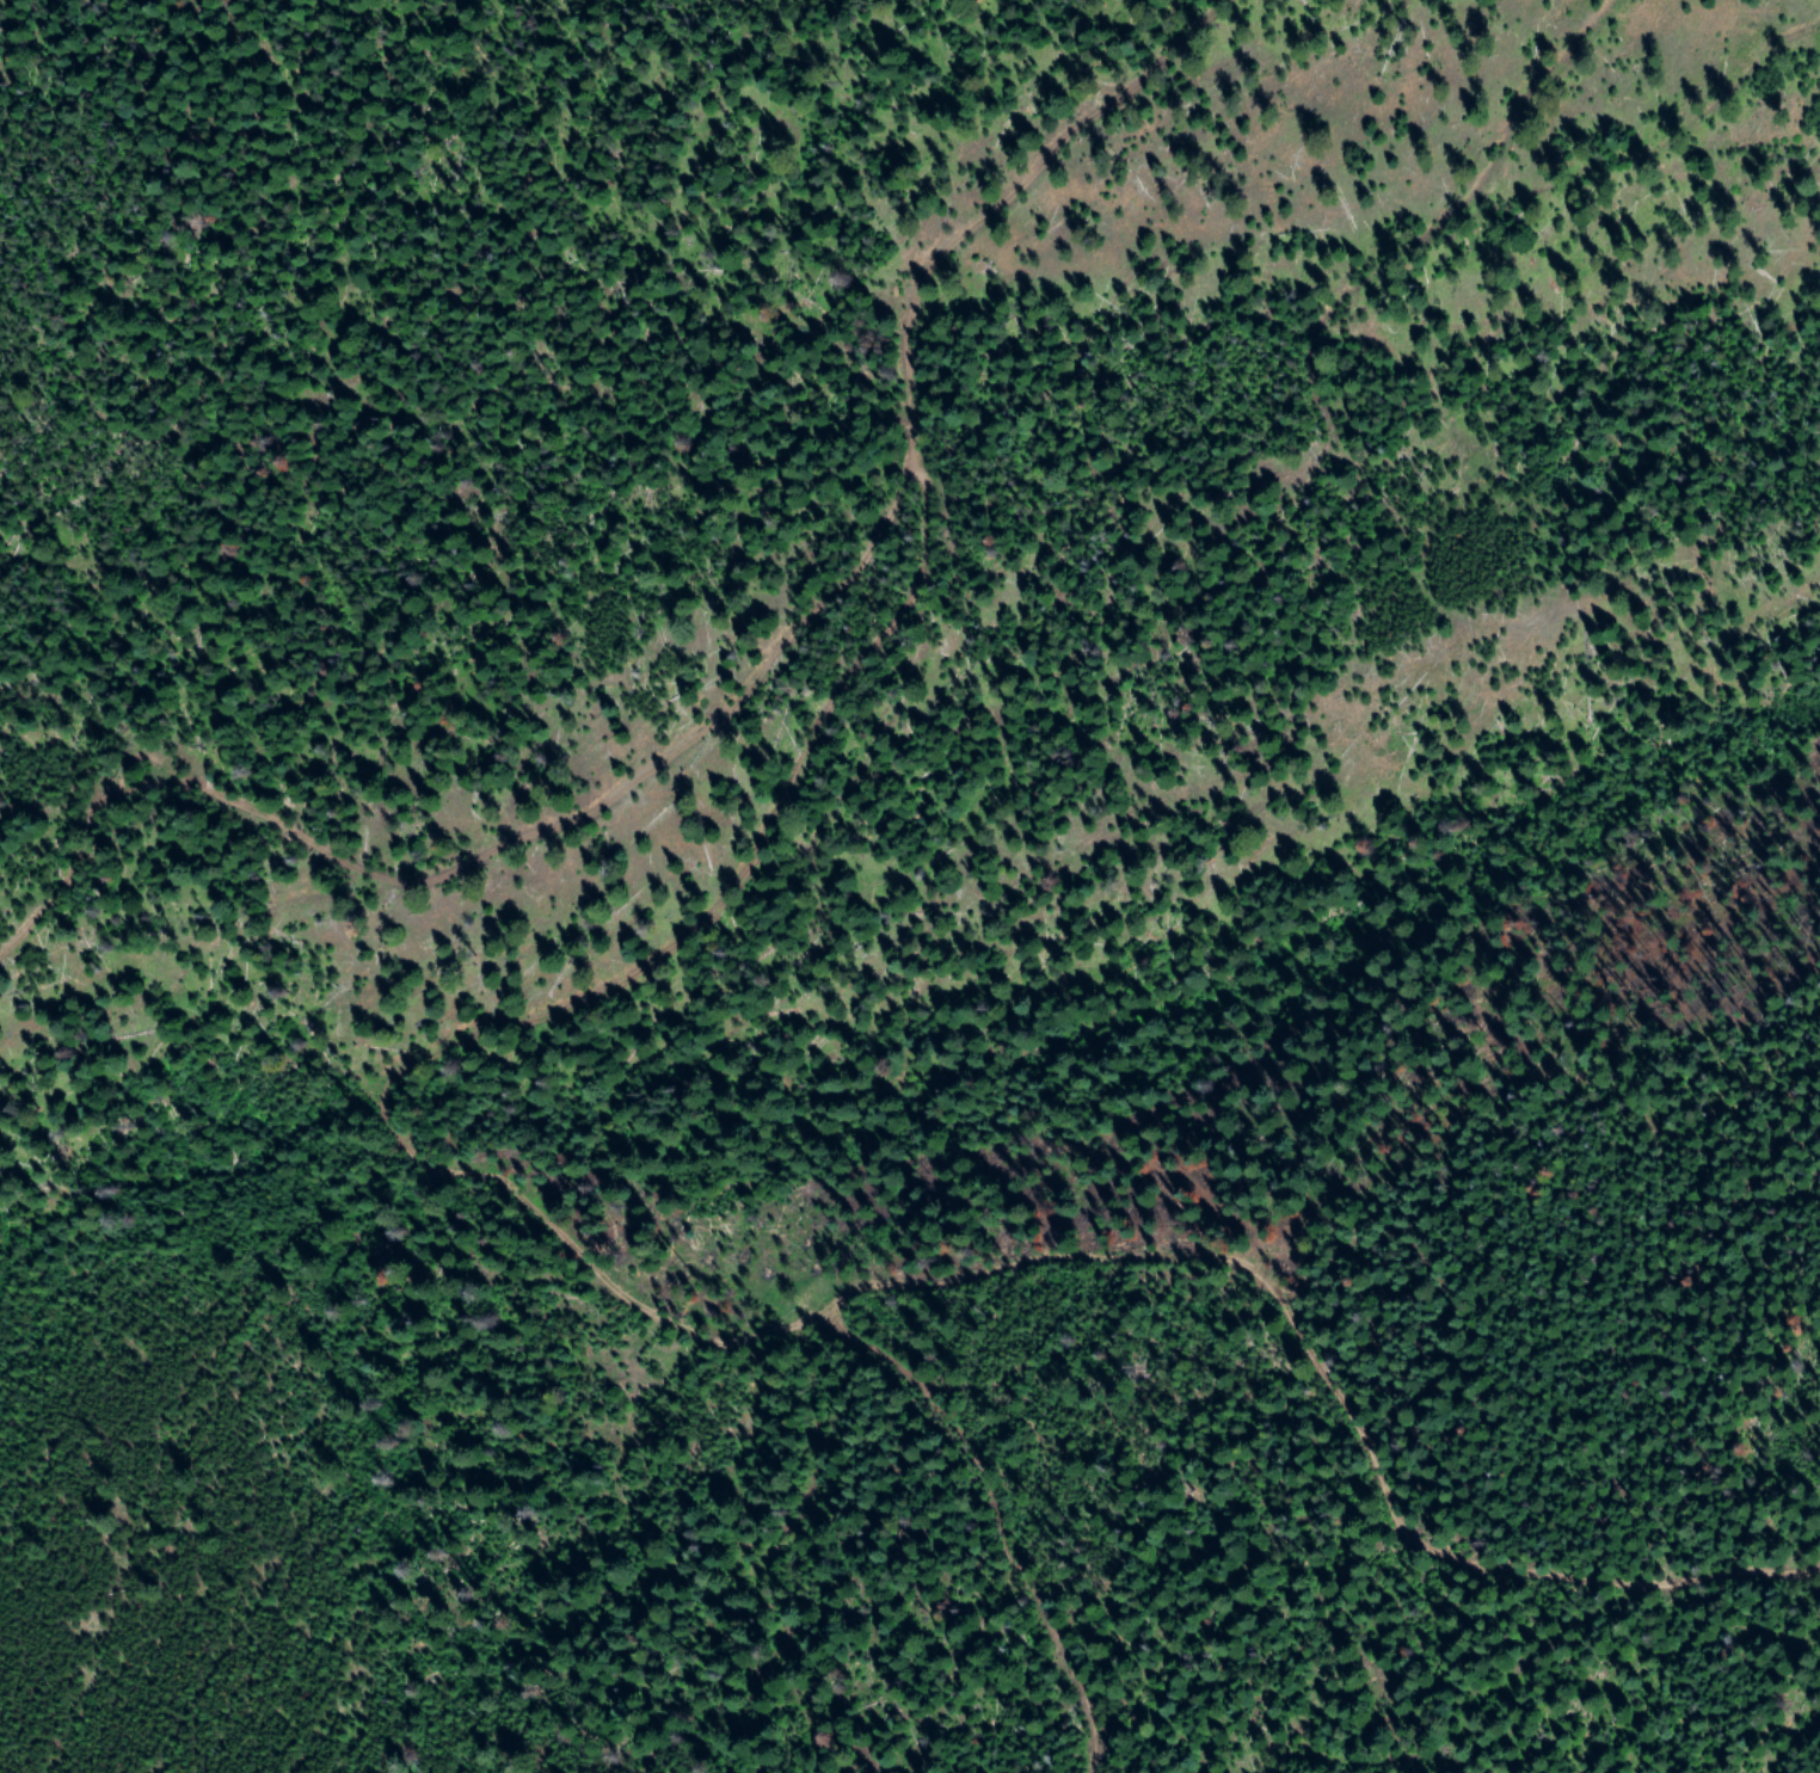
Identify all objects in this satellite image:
road: (805, 692)
road: (564, 1280)

